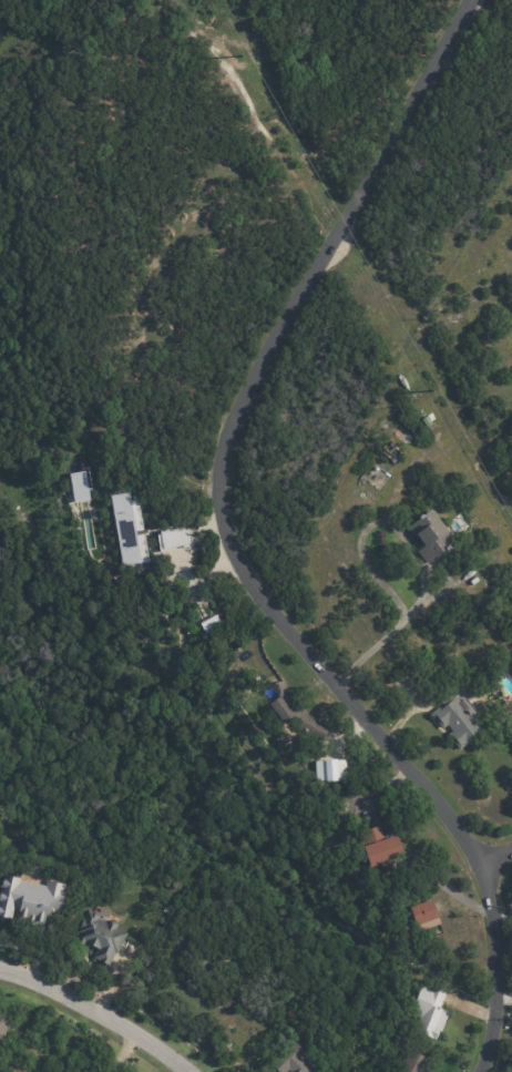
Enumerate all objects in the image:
power tower: (238, 53)
power tower: (429, 391)
building: (406, 440)
building: (80, 484)
building: (129, 529)
building: (430, 535)
building: (174, 539)
road: (234, 550)
road: (414, 553)
building: (209, 625)
building: (247, 655)
building: (287, 715)
building: (457, 719)
building: (329, 772)
building: (379, 851)
road: (498, 854)
building: (30, 898)
building: (423, 915)
building: (100, 936)
building: (429, 1010)
road: (100, 1012)
building: (2, 1025)
building: (291, 1061)
building: (412, 1062)

